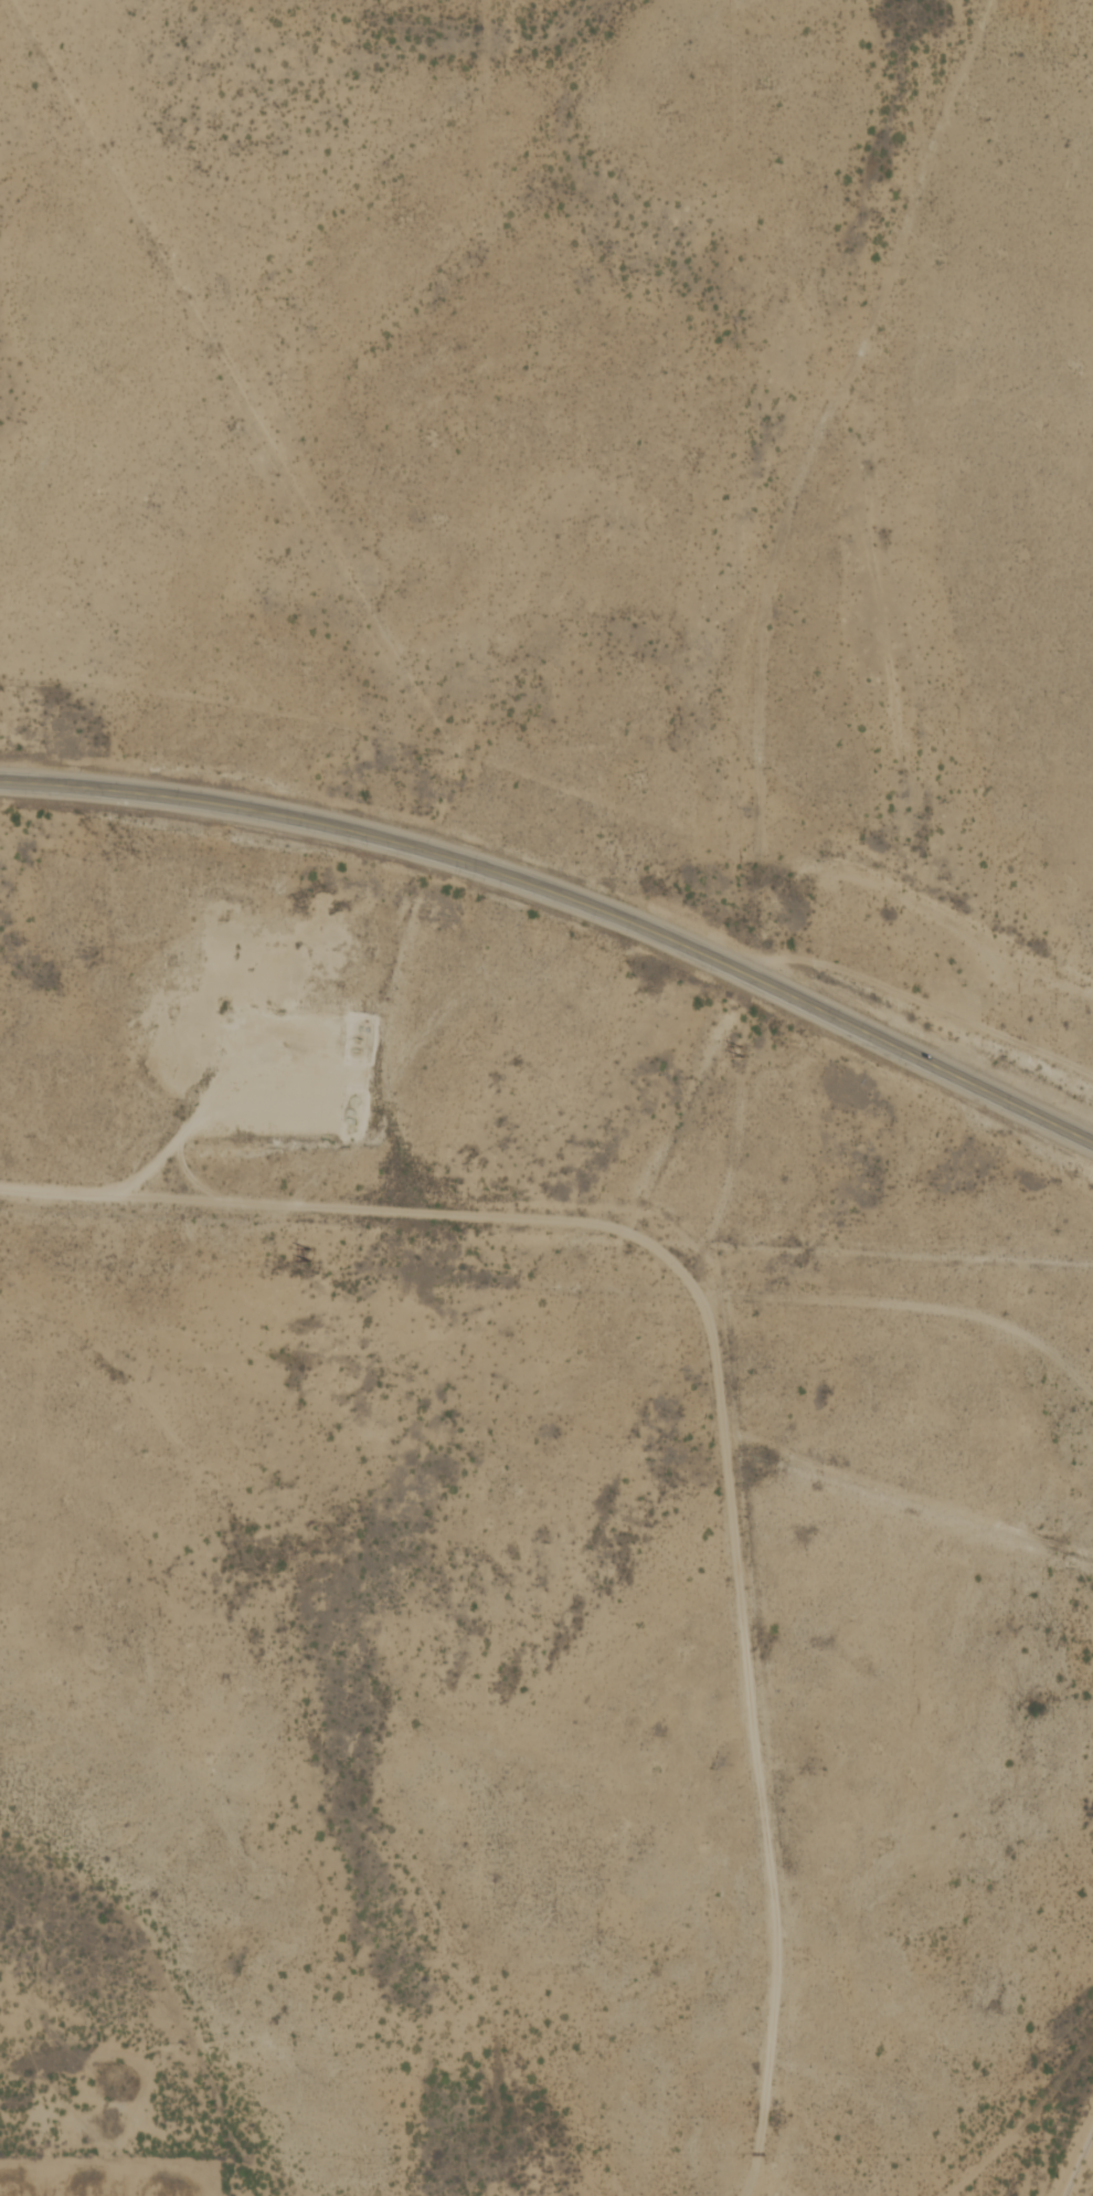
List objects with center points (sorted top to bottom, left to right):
road: (784, 400)
road: (566, 898)
road: (229, 1102)
road: (713, 1385)
road: (68, 2061)
road: (1021, 2121)
road: (1074, 2153)

